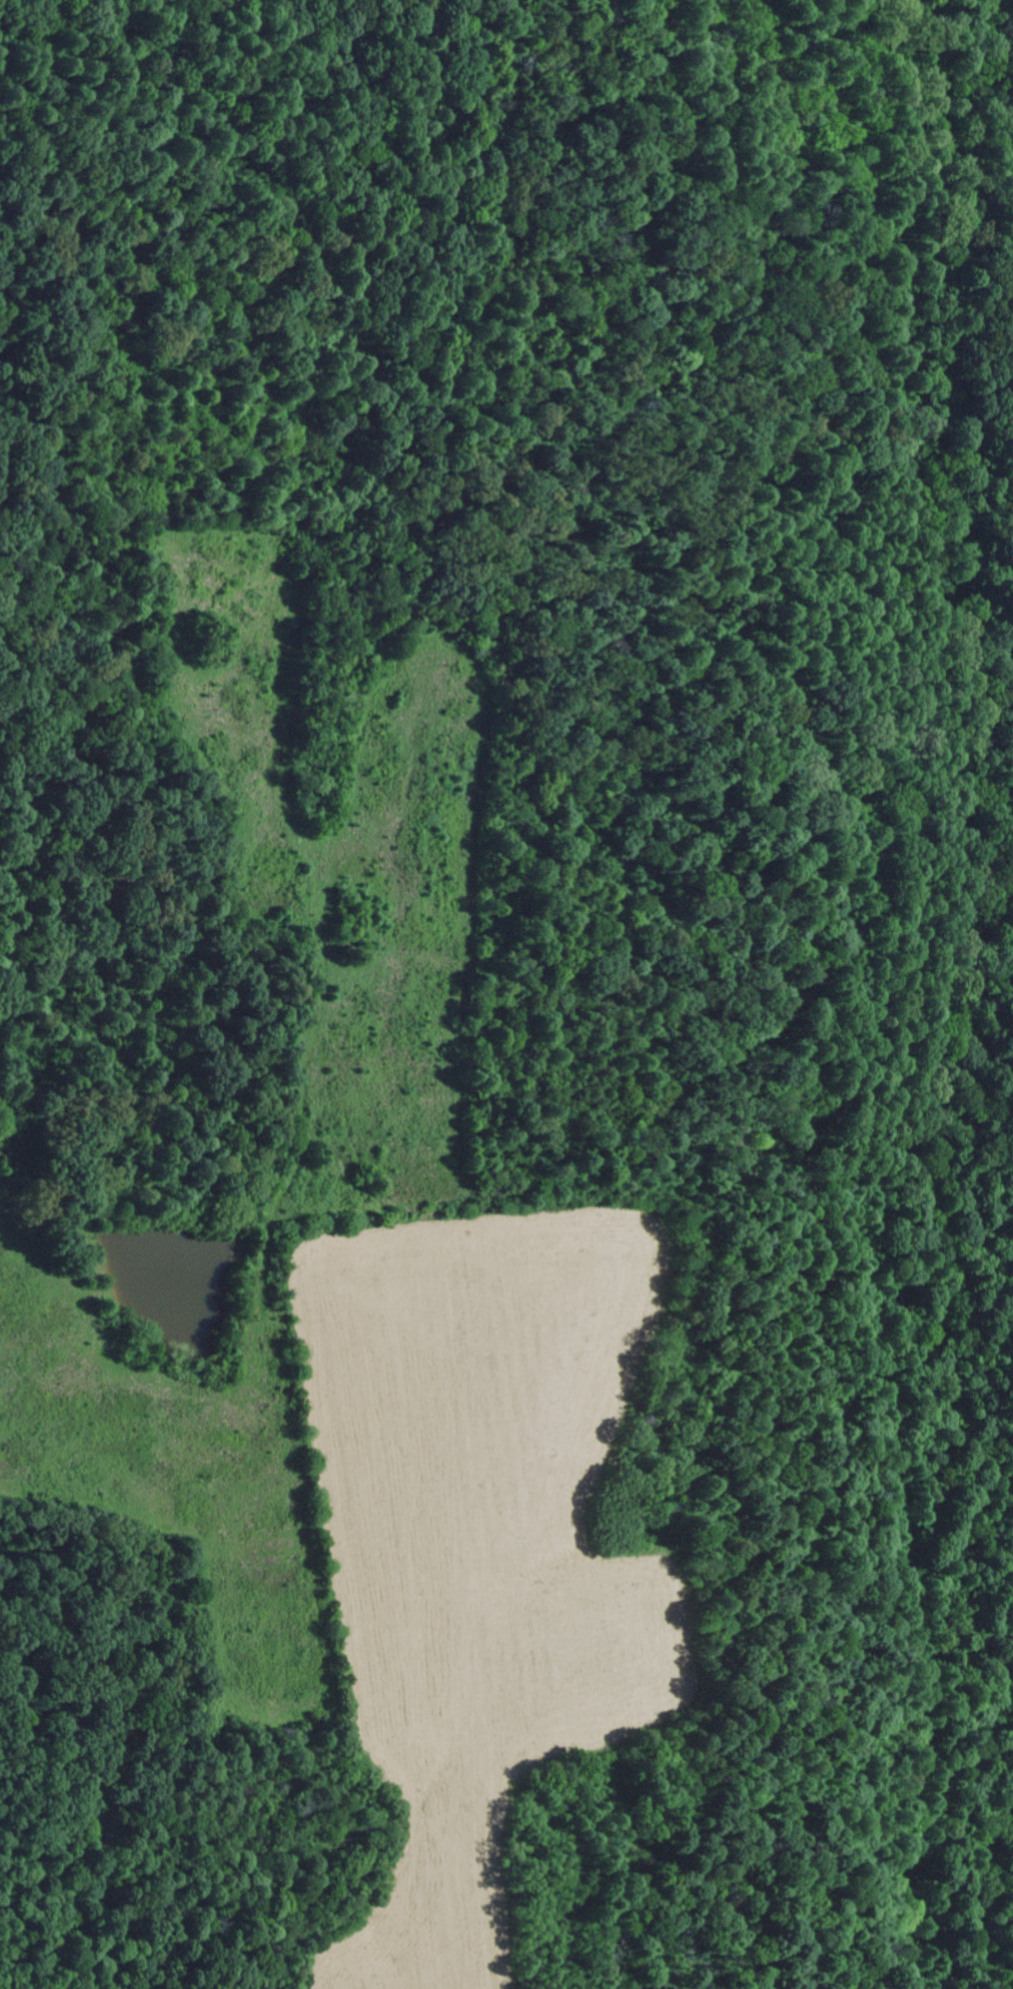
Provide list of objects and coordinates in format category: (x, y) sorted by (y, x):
road: (949, 311)

